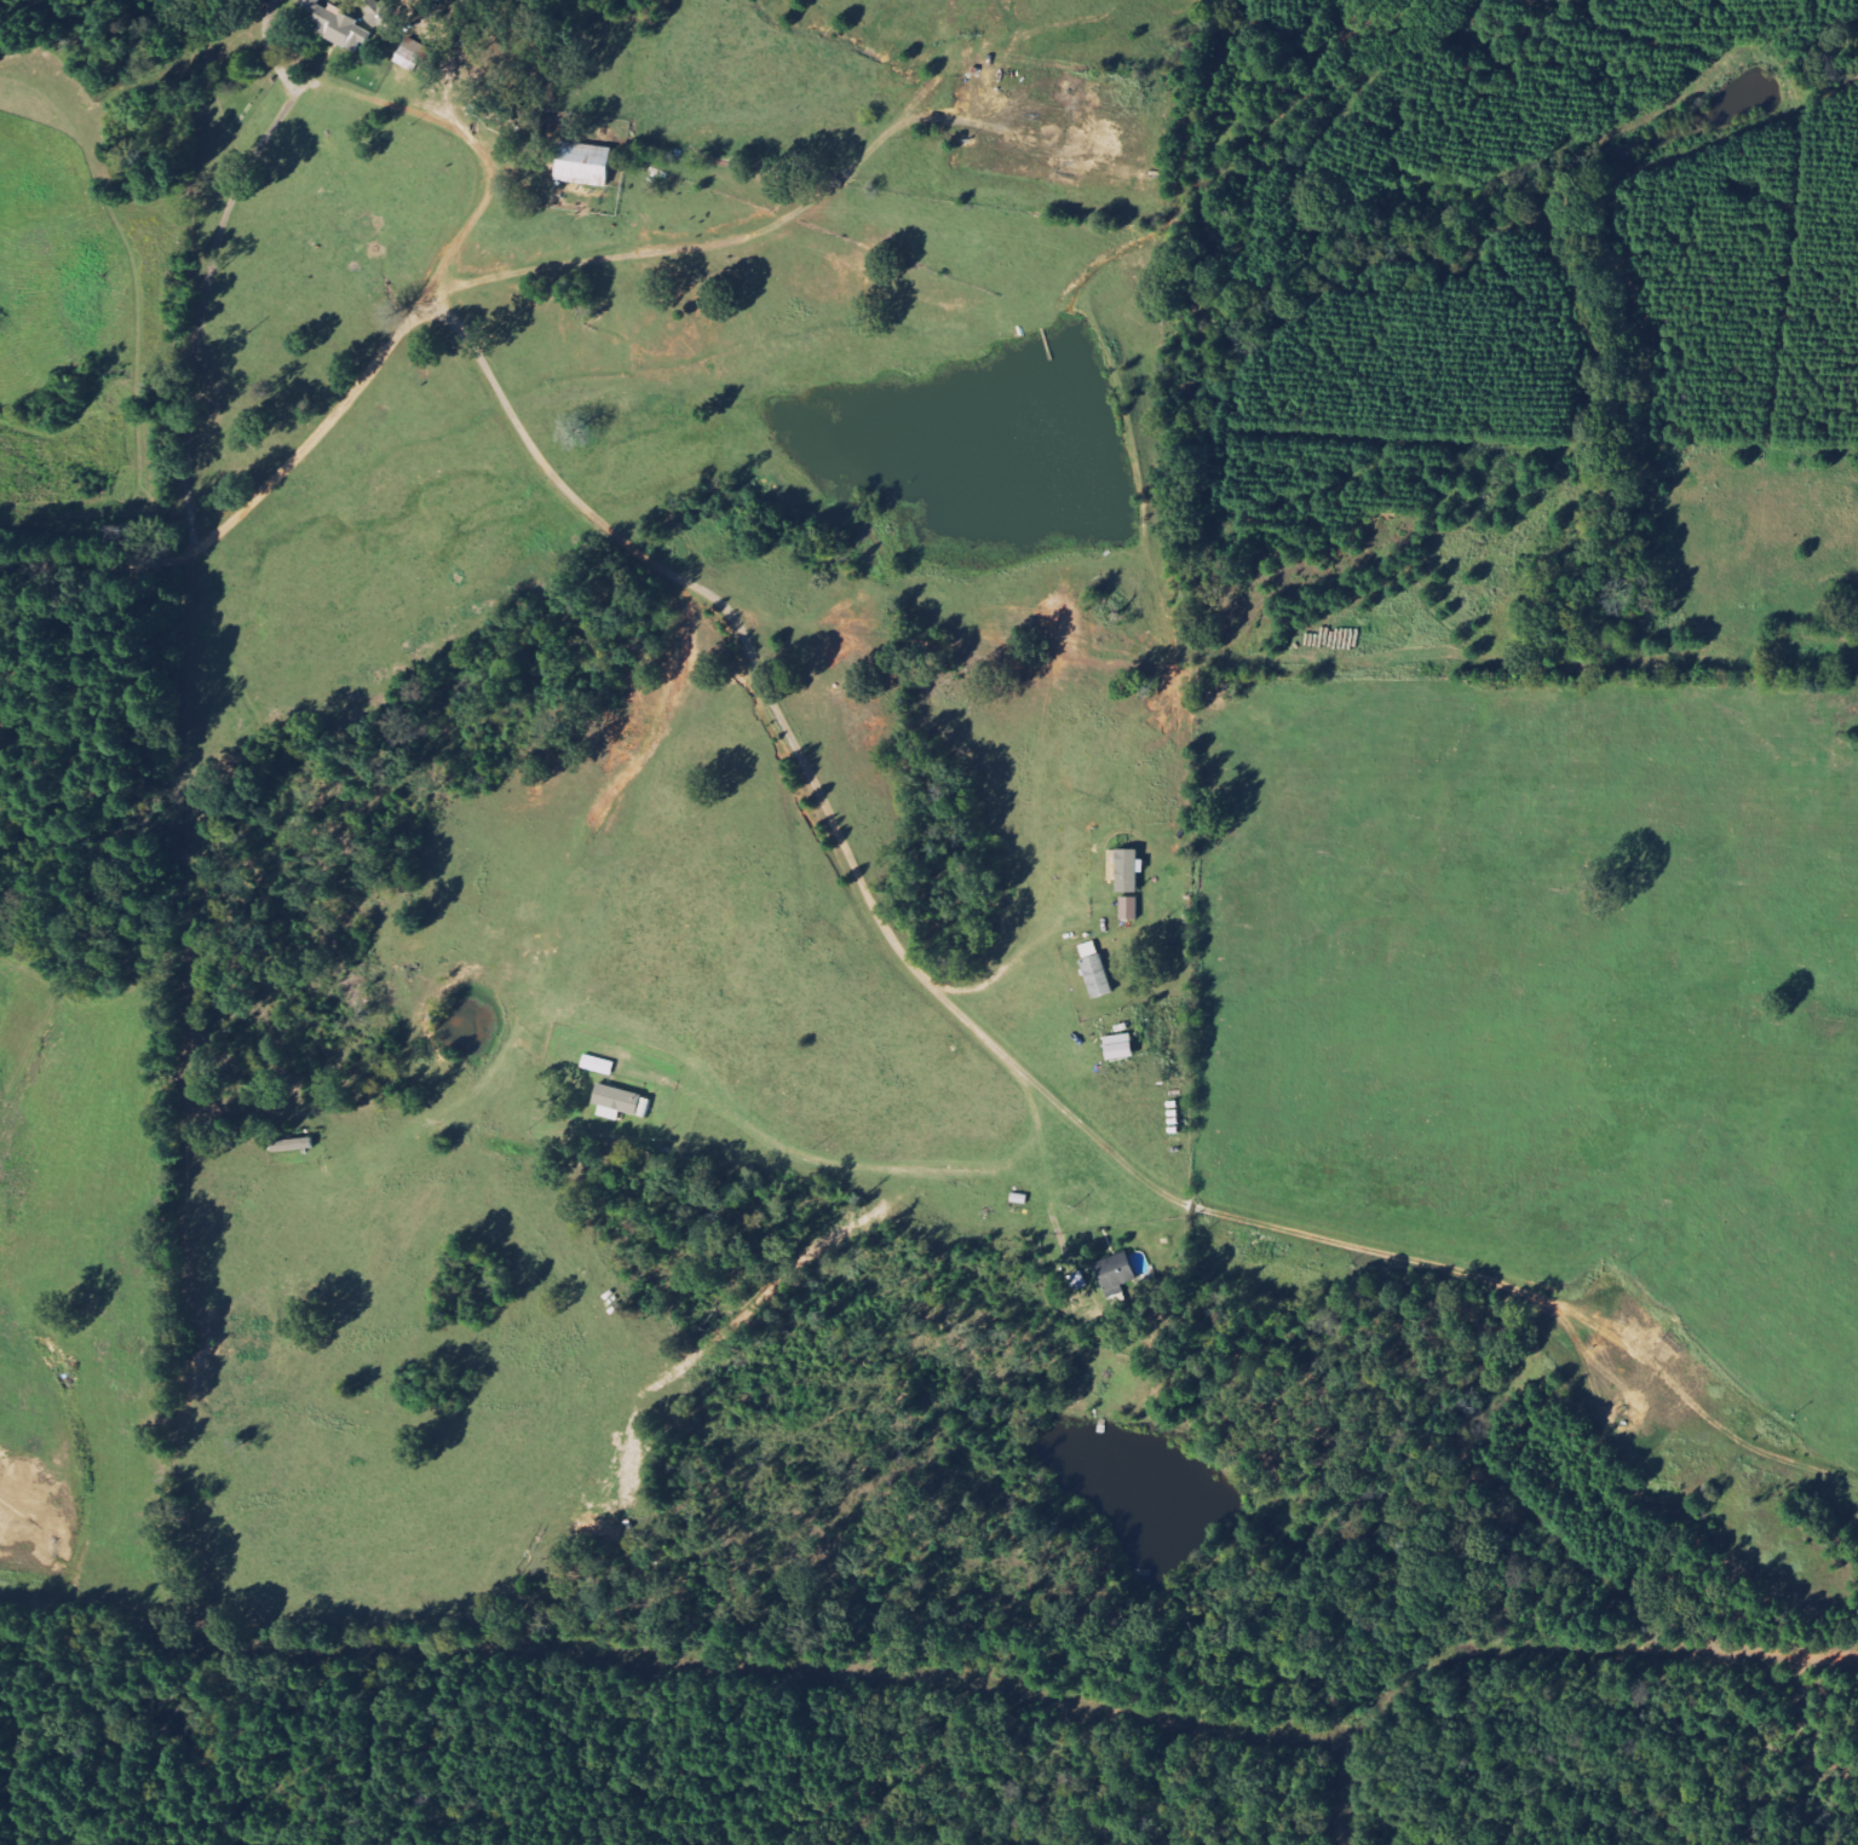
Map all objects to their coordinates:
building: (380, 16)
building: (338, 27)
building: (585, 165)
road: (455, 254)
road: (88, 561)
road: (795, 746)
building: (1128, 870)
building: (1129, 909)
road: (1012, 970)
building: (1098, 976)
building: (616, 1102)
road: (881, 1159)
building: (1116, 1272)

